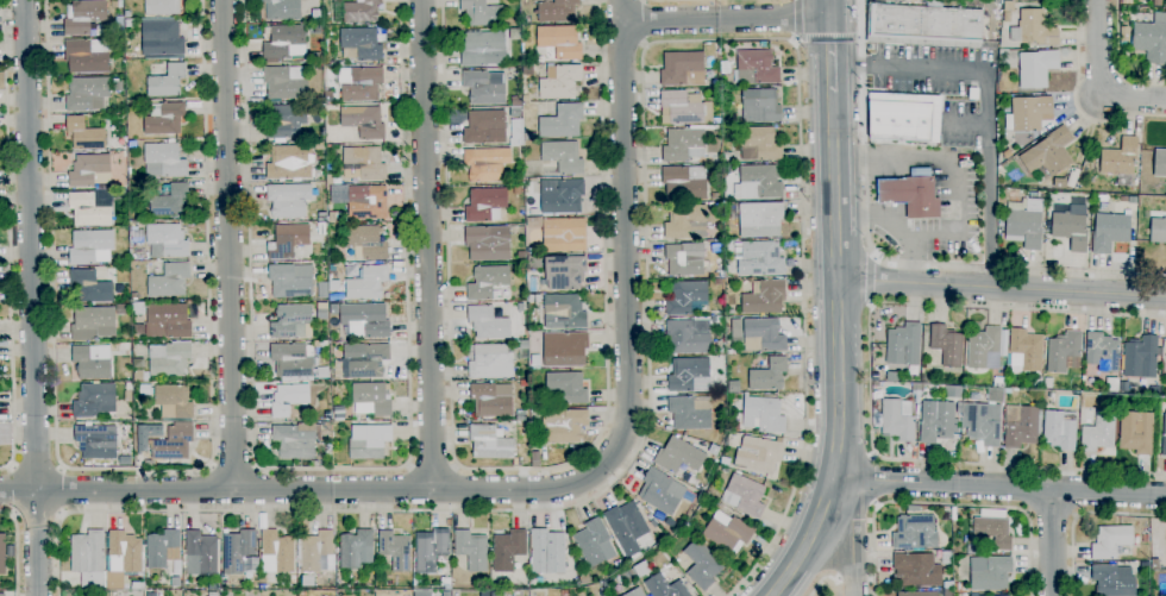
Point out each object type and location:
building: (1126, 1)
building: (1156, 2)
building: (114, 4)
building: (162, 7)
road: (828, 8)
building: (283, 10)
building: (1008, 10)
building: (361, 11)
building: (557, 11)
building: (481, 13)
building: (126, 14)
building: (316, 14)
building: (83, 17)
road: (723, 19)
road: (797, 19)
road: (644, 23)
building: (924, 25)
building: (315, 27)
building: (1034, 29)
building: (1124, 34)
building: (162, 38)
road: (828, 38)
building: (284, 42)
building: (560, 42)
building: (1149, 42)
building: (359, 44)
building: (479, 46)
road: (829, 55)
building: (87, 56)
building: (527, 58)
road: (1117, 62)
building: (336, 63)
road: (908, 67)
building: (756, 68)
building: (1036, 68)
building: (683, 69)
building: (522, 79)
building: (560, 81)
road: (1098, 81)
building: (167, 82)
building: (286, 82)
building: (362, 84)
building: (118, 87)
building: (484, 87)
building: (87, 94)
building: (525, 98)
building: (515, 101)
road: (1076, 101)
building: (319, 103)
building: (760, 105)
building: (682, 107)
building: (515, 112)
building: (1029, 113)
building: (903, 118)
building: (164, 119)
building: (284, 120)
building: (364, 121)
building: (562, 121)
building: (716, 121)
road: (966, 124)
building: (485, 127)
building: (84, 136)
building: (531, 137)
building: (131, 144)
building: (759, 144)
building: (683, 145)
building: (319, 146)
building: (1049, 152)
building: (563, 157)
building: (727, 158)
building: (715, 159)
building: (163, 161)
building: (1120, 161)
building: (290, 163)
building: (1159, 163)
building: (363, 164)
building: (487, 164)
building: (88, 170)
building: (515, 177)
building: (1073, 177)
road: (986, 178)
building: (328, 180)
building: (760, 182)
building: (684, 183)
building: (1059, 183)
road: (953, 187)
building: (518, 190)
building: (911, 195)
gas station: (911, 195)
building: (1041, 195)
building: (564, 197)
building: (169, 200)
building: (288, 200)
building: (366, 202)
building: (485, 205)
building: (92, 208)
road: (874, 215)
building: (322, 217)
building: (760, 219)
building: (685, 221)
building: (534, 222)
building: (1024, 222)
road: (645, 224)
building: (1070, 230)
building: (1158, 231)
building: (1109, 232)
building: (564, 234)
road: (623, 237)
road: (8, 238)
building: (168, 239)
building: (287, 240)
building: (365, 243)
building: (488, 243)
road: (426, 244)
road: (228, 245)
building: (90, 246)
building: (728, 246)
building: (715, 247)
building: (685, 259)
building: (760, 259)
road: (890, 262)
building: (729, 264)
building: (565, 272)
building: (169, 281)
road: (869, 281)
building: (288, 282)
building: (487, 282)
building: (366, 283)
building: (334, 286)
building: (90, 287)
road: (1001, 287)
road: (31, 297)
building: (687, 297)
building: (764, 297)
building: (533, 299)
building: (121, 309)
building: (564, 312)
building: (321, 314)
building: (169, 319)
building: (365, 319)
building: (716, 319)
building: (290, 321)
building: (487, 322)
building: (93, 324)
building: (765, 333)
building: (689, 335)
building: (719, 344)
building: (903, 344)
building: (524, 345)
building: (946, 345)
building: (984, 349)
building: (564, 350)
building: (1061, 351)
building: (1165, 351)
road: (836, 352)
building: (1024, 352)
building: (1102, 352)
building: (1140, 357)
building: (169, 359)
building: (291, 360)
building: (366, 360)
building: (92, 362)
building: (136, 362)
building: (490, 362)
building: (535, 364)
building: (322, 372)
building: (689, 375)
building: (769, 375)
building: (341, 377)
building: (892, 377)
road: (871, 379)
building: (997, 381)
building: (1038, 382)
building: (524, 383)
building: (1087, 384)
building: (568, 387)
building: (734, 387)
building: (915, 387)
building: (145, 390)
building: (998, 395)
building: (1039, 395)
building: (127, 396)
building: (366, 397)
building: (289, 400)
building: (491, 400)
building: (94, 401)
building: (173, 401)
building: (332, 402)
building: (959, 407)
building: (341, 413)
building: (690, 413)
building: (761, 414)
building: (521, 416)
building: (896, 421)
building: (935, 421)
building: (535, 422)
building: (983, 424)
building: (563, 425)
building: (327, 426)
building: (1021, 426)
building: (1059, 429)
building: (1098, 432)
building: (1136, 432)
building: (1164, 435)
building: (170, 440)
building: (296, 440)
building: (96, 441)
building: (369, 441)
building: (489, 443)
building: (714, 448)
building: (758, 454)
building: (678, 456)
building: (534, 457)
building: (725, 462)
road: (36, 465)
road: (233, 465)
road: (431, 466)
road: (518, 468)
road: (333, 469)
road: (133, 470)
road: (876, 481)
road: (998, 487)
road: (12, 489)
road: (61, 490)
road: (302, 490)
building: (663, 491)
building: (744, 496)
building: (708, 503)
road: (947, 504)
building: (916, 508)
building: (953, 514)
road: (1051, 514)
road: (36, 515)
road: (1080, 515)
building: (659, 516)
building: (628, 528)
building: (992, 528)
building: (727, 532)
building: (915, 533)
building: (1145, 538)
building: (1165, 538)
building: (594, 542)
road: (852, 542)
road: (1054, 542)
building: (1112, 542)
road: (15, 548)
building: (162, 548)
building: (356, 548)
building: (278, 550)
building: (430, 550)
building: (471, 550)
building: (507, 550)
building: (315, 551)
building: (395, 551)
building: (10, 552)
building: (547, 552)
building: (200, 553)
building: (239, 553)
building: (2, 554)
building: (946, 557)
building: (123, 558)
building: (88, 559)
building: (1155, 564)
building: (702, 565)
building: (641, 569)
building: (915, 570)
road: (846, 572)
building: (629, 573)
building: (990, 573)
building: (584, 578)
building: (291, 579)
building: (487, 579)
road: (838, 579)
building: (307, 581)
road: (820, 581)
building: (175, 582)
building: (1111, 582)
building: (446, 583)
building: (62, 584)
building: (137, 585)
building: (665, 586)
building: (262, 588)
building: (947, 588)
building: (958, 588)
building: (563, 592)
building: (635, 592)
building: (112, 594)
building: (213, 594)
building: (301, 594)
building: (497, 594)
building: (917, 594)
building: (2, 595)
building: (151, 595)
building: (996, 595)

